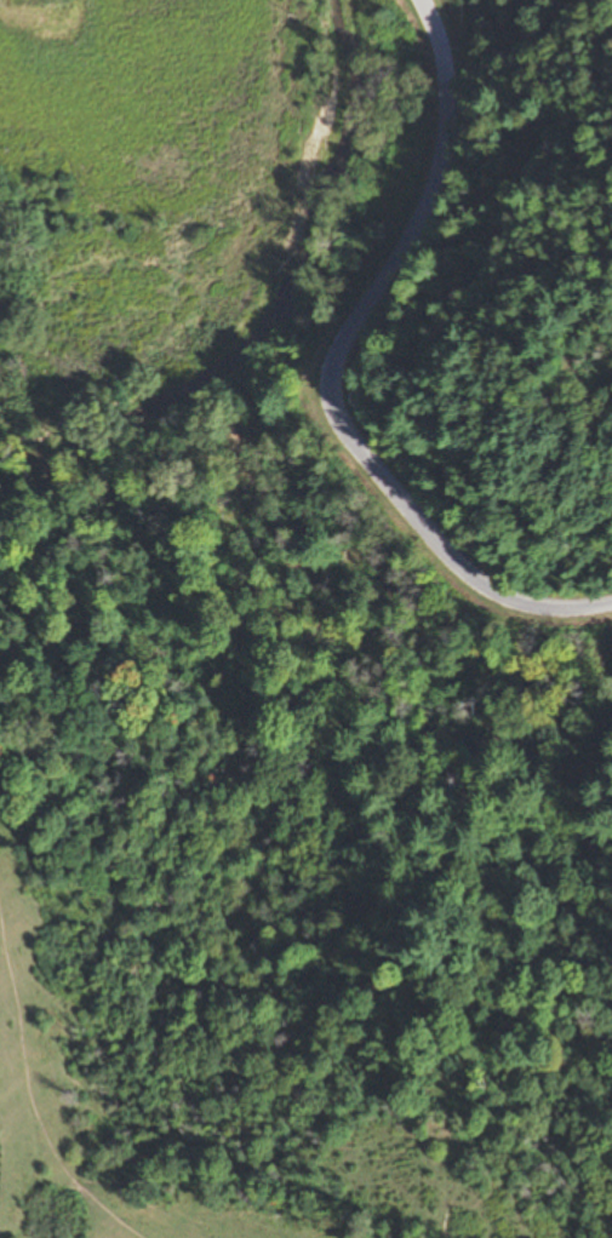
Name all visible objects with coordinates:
building: (399, 148)
road: (337, 365)

